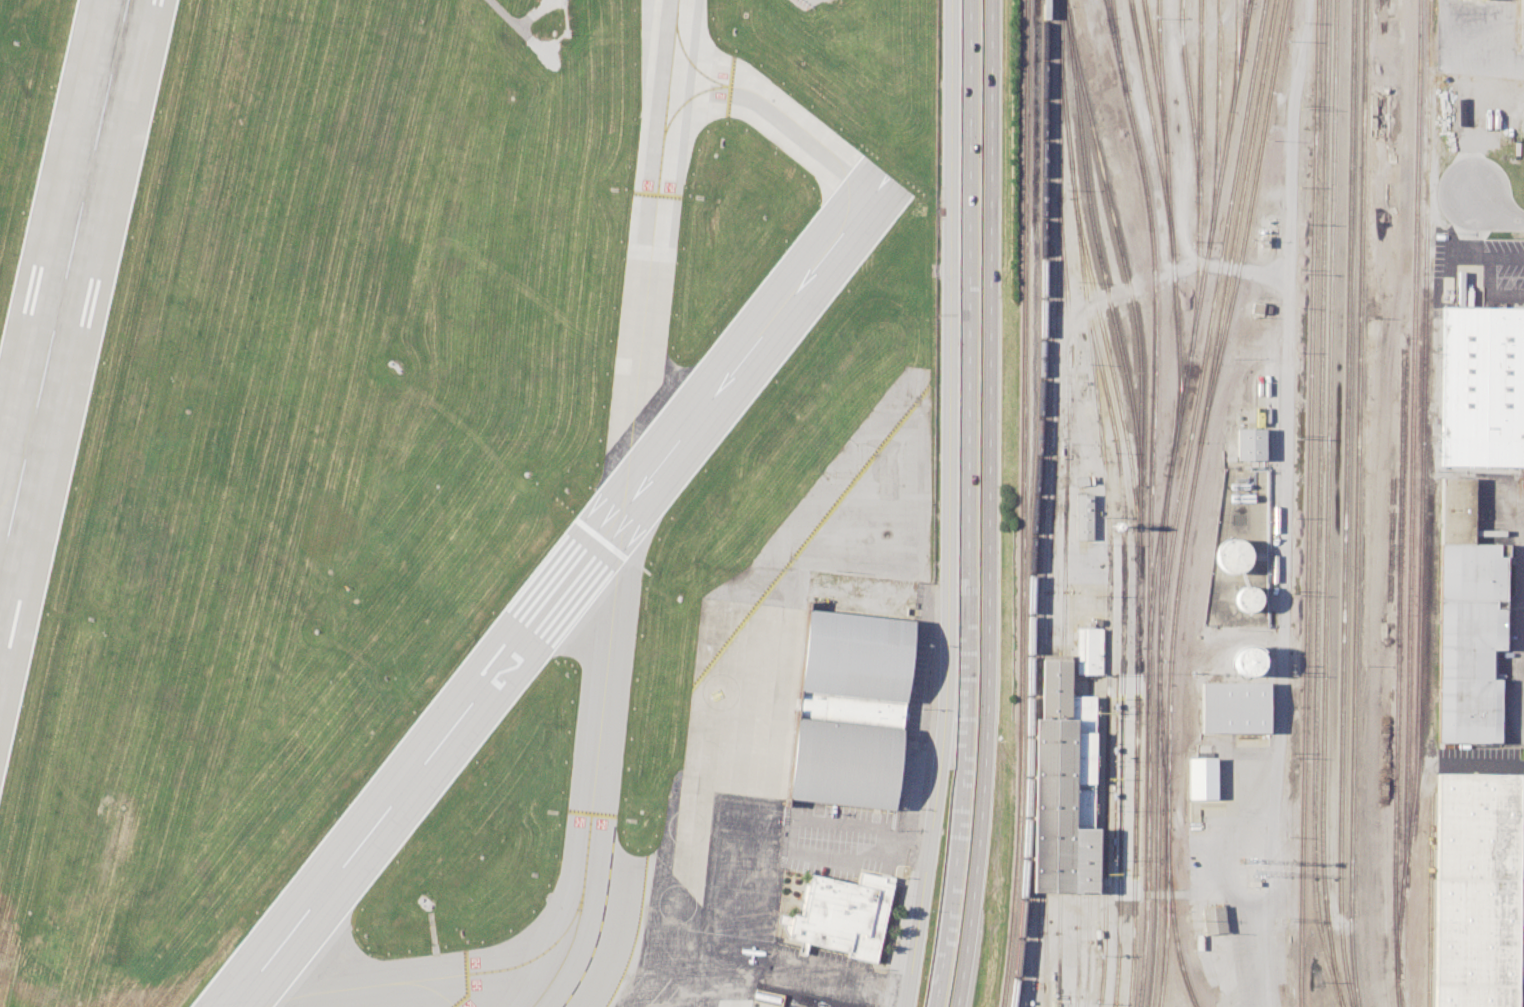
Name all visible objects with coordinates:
railway: (1249, 0)
railway: (1517, 23)
railway: (1242, 29)
railway: (1115, 45)
railway: (1118, 45)
road: (1468, 50)
railway: (1235, 55)
railway: (1155, 75)
railway: (1187, 100)
airport taxiway: (782, 111)
railway: (1215, 123)
railway: (1152, 126)
railway: (1198, 177)
road: (1495, 212)
railway: (1236, 220)
railway: (1246, 221)
railway: (1169, 231)
railway: (1118, 243)
road: (1469, 253)
road: (1176, 267)
railway: (1104, 278)
airport runway: (63, 284)
road: (1486, 297)
railway: (1056, 329)
railway: (1207, 329)
railway: (1112, 376)
building: (1478, 390)
road: (1287, 420)
railway: (1066, 427)
building: (1251, 444)
railway: (1411, 446)
building: (1083, 480)
railway: (1421, 490)
airport: (465, 500)
railway: (1165, 500)
railway: (1022, 503)
railway: (1035, 503)
railway: (1307, 503)
railway: (1356, 503)
road: (951, 504)
road: (969, 504)
road: (987, 504)
railway: (1327, 504)
railway: (1346, 504)
railway: (1317, 505)
airport taxiway: (623, 510)
building: (1082, 516)
railway: (1107, 525)
airport taxiway: (3, 537)
railway: (1148, 547)
building: (1232, 554)
storage tank: (1232, 554)
airport runway: (559, 590)
building: (1245, 598)
storage tank: (1245, 598)
road: (1521, 615)
building: (1464, 622)
railway: (1172, 635)
railway: (1122, 645)
building: (1088, 650)
airport hangar: (856, 656)
building: (856, 656)
building: (1244, 660)
storage tank: (1244, 660)
railway: (1397, 678)
airport apron: (775, 701)
building: (1234, 707)
building: (850, 709)
road: (1522, 742)
railway: (1162, 745)
airport hangar: (845, 763)
building: (845, 763)
railway: (1046, 775)
railway: (1061, 775)
building: (1199, 777)
railway: (1135, 782)
building: (1062, 786)
building: (1477, 892)
road: (1172, 893)
railway: (1428, 899)
building: (840, 914)
railway: (1163, 919)
railway: (1171, 920)
building: (1210, 920)
road: (1265, 924)
railway: (1044, 949)
railway: (1058, 949)
railway: (1075, 949)
railway: (1086, 949)
road: (848, 976)
airport taxiway: (383, 983)

